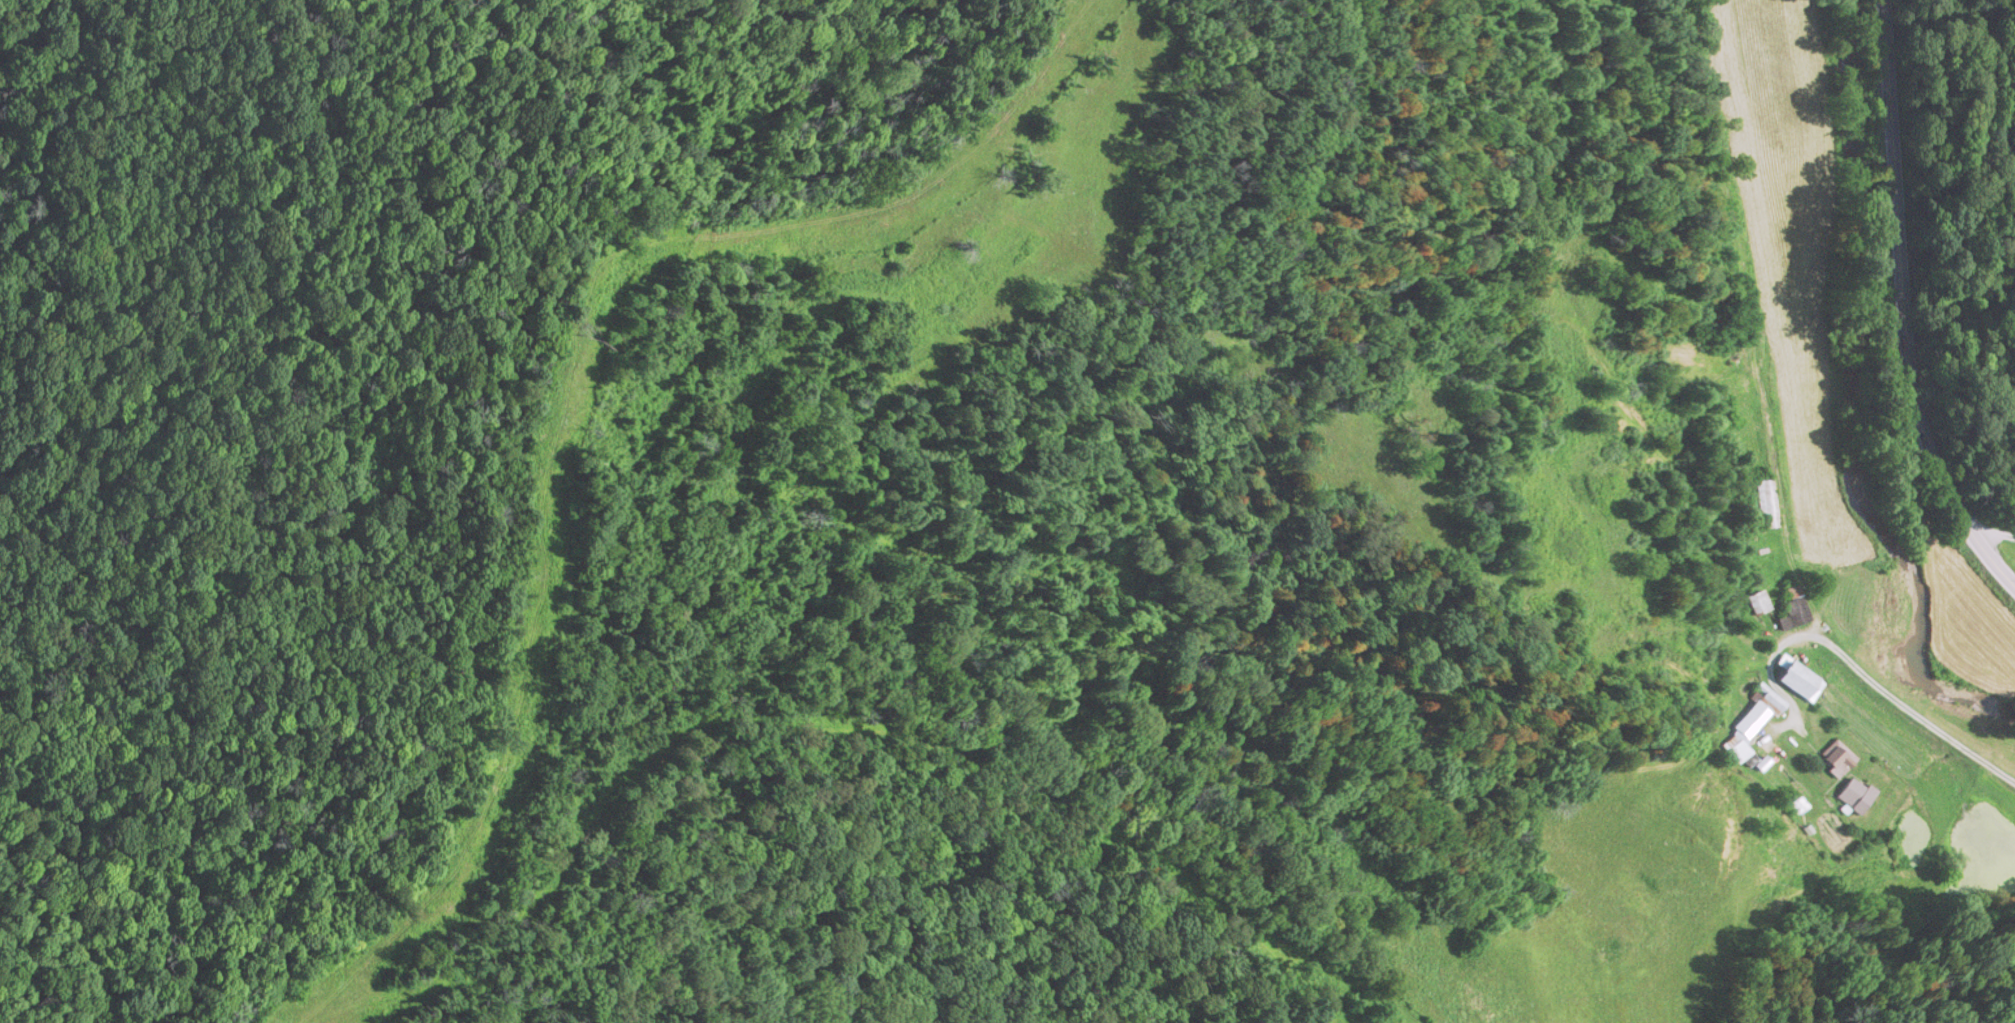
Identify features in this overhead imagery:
road: (1898, 308)
building: (1767, 505)
road: (1994, 533)
building: (1759, 605)
building: (1795, 611)
building: (1801, 682)
road: (1897, 709)
building: (1745, 735)
building: (1838, 759)
building: (1857, 796)

